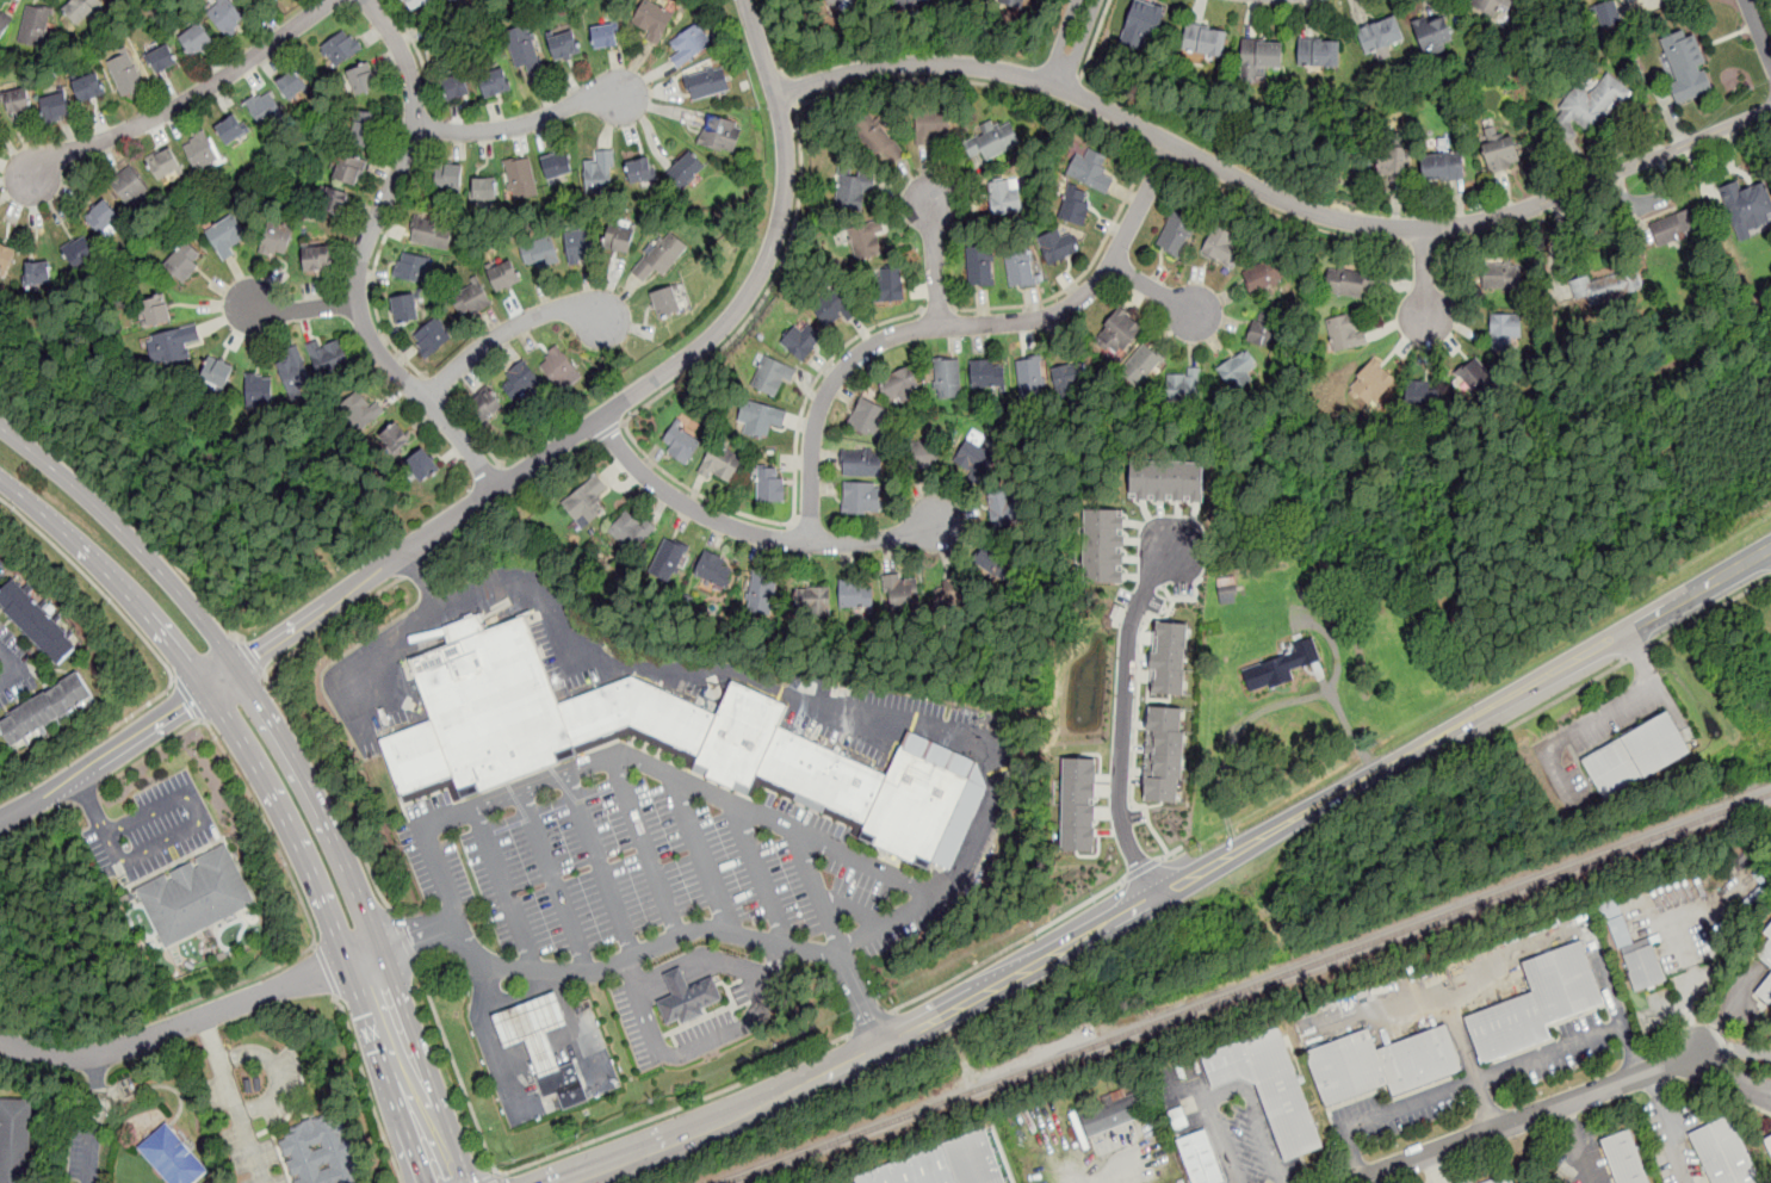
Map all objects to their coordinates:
building: (1629, 0)
building: (852, 1)
building: (831, 2)
building: (1014, 2)
building: (416, 4)
building: (912, 4)
building: (1487, 6)
building: (80, 8)
building: (1608, 12)
building: (227, 18)
building: (652, 20)
building: (4, 24)
building: (35, 25)
building: (1141, 25)
road: (1759, 27)
building: (1380, 33)
building: (1433, 33)
building: (603, 36)
road: (773, 37)
building: (196, 39)
road: (1094, 39)
building: (1205, 41)
road: (1073, 42)
building: (689, 44)
building: (564, 45)
building: (341, 49)
building: (525, 50)
building: (1319, 51)
road: (419, 54)
building: (1259, 56)
building: (162, 58)
building: (1686, 63)
building: (126, 73)
building: (361, 81)
building: (495, 81)
building: (707, 82)
building: (456, 85)
building: (88, 86)
building: (292, 86)
road: (791, 88)
road: (1073, 93)
building: (18, 99)
road: (185, 101)
building: (55, 104)
building: (1591, 104)
building: (265, 109)
road: (1106, 111)
road: (524, 124)
building: (365, 128)
road: (432, 128)
building: (933, 128)
road: (1109, 128)
building: (230, 129)
building: (716, 130)
building: (878, 140)
building: (992, 140)
building: (200, 150)
building: (1501, 154)
road: (1164, 156)
building: (163, 162)
building: (557, 163)
building: (1392, 163)
building: (1442, 166)
building: (686, 167)
building: (349, 169)
building: (639, 169)
building: (599, 172)
building: (1094, 172)
building: (448, 176)
building: (521, 178)
road: (1600, 179)
building: (129, 185)
building: (853, 186)
building: (484, 188)
building: (1004, 198)
building: (333, 199)
building: (1747, 205)
building: (1073, 206)
building: (103, 215)
road: (1290, 218)
building: (1674, 225)
building: (431, 233)
building: (1175, 234)
building: (227, 235)
road: (1490, 236)
building: (275, 239)
building: (618, 239)
building: (865, 240)
building: (578, 244)
road: (1423, 244)
building: (1058, 247)
building: (1222, 247)
building: (80, 252)
building: (540, 253)
road: (364, 255)
building: (661, 256)
building: (317, 258)
building: (6, 260)
road: (935, 260)
building: (185, 261)
road: (376, 262)
building: (413, 266)
building: (979, 266)
building: (1020, 267)
building: (1263, 272)
building: (37, 274)
building: (504, 275)
road: (1424, 275)
building: (1501, 275)
building: (1351, 281)
building: (890, 284)
building: (1609, 287)
road: (1158, 292)
building: (668, 302)
building: (473, 303)
building: (404, 306)
building: (155, 309)
road: (303, 309)
building: (834, 309)
road: (941, 309)
road: (958, 326)
road: (509, 328)
building: (1263, 328)
building: (1505, 329)
building: (1120, 330)
building: (1345, 332)
building: (432, 337)
building: (803, 340)
building: (172, 343)
building: (328, 355)
building: (1141, 364)
building: (557, 367)
building: (1237, 370)
building: (216, 371)
building: (987, 372)
building: (295, 374)
building: (1070, 376)
building: (772, 377)
building: (1478, 377)
building: (519, 378)
building: (1029, 378)
building: (946, 379)
building: (1183, 382)
building: (1371, 382)
building: (899, 385)
road: (435, 388)
building: (259, 390)
building: (1423, 394)
road: (627, 400)
building: (484, 407)
building: (361, 409)
building: (869, 419)
building: (758, 420)
road: (621, 422)
road: (605, 432)
road: (475, 433)
building: (394, 439)
building: (680, 442)
building: (921, 456)
building: (974, 458)
road: (650, 459)
building: (861, 463)
building: (720, 464)
building: (421, 465)
road: (509, 477)
building: (1166, 481)
building: (770, 484)
building: (861, 496)
road: (512, 497)
building: (586, 502)
building: (1007, 507)
road: (129, 514)
building: (628, 532)
road: (751, 532)
building: (1101, 545)
building: (668, 559)
building: (996, 562)
road: (417, 564)
building: (713, 570)
building: (1227, 589)
building: (761, 590)
building: (953, 591)
building: (900, 593)
building: (855, 595)
building: (813, 601)
road: (1709, 612)
building: (37, 623)
road: (333, 624)
road: (1333, 639)
road: (382, 648)
road: (1636, 652)
road: (252, 656)
road: (1639, 656)
building: (1168, 657)
road: (163, 659)
road: (10, 665)
building: (1280, 665)
road: (744, 676)
road: (187, 696)
road: (1552, 702)
road: (1265, 708)
building: (45, 710)
road: (1122, 719)
road: (1135, 723)
road: (1569, 732)
building: (481, 744)
road: (123, 748)
road: (148, 751)
building: (1163, 752)
building: (1636, 757)
road: (297, 763)
road: (565, 776)
road: (332, 789)
road: (274, 791)
road: (86, 797)
building: (1076, 803)
road: (92, 804)
road: (163, 804)
road: (648, 848)
road: (148, 850)
road: (1172, 851)
road: (702, 855)
road: (602, 866)
road: (1141, 868)
parking lot: (649, 871)
road: (762, 874)
road: (556, 881)
road: (921, 884)
road: (1176, 886)
road: (506, 888)
road: (821, 890)
building: (199, 896)
road: (301, 899)
road: (404, 939)
road: (315, 944)
road: (1008, 947)
building: (1766, 949)
road: (719, 960)
building: (1642, 962)
road: (603, 967)
road: (636, 971)
road: (327, 972)
railway: (1247, 989)
building: (1765, 990)
building: (687, 996)
road: (522, 997)
road: (863, 997)
building: (1536, 1004)
road: (758, 1007)
road: (191, 1018)
parking lot: (639, 1021)
road: (871, 1022)
gas station: (534, 1027)
road: (576, 1028)
road: (491, 1039)
building: (541, 1046)
road: (1738, 1052)
road: (661, 1053)
building: (1382, 1061)
road: (274, 1070)
road: (456, 1070)
road: (1482, 1076)
road: (1734, 1076)
building: (1269, 1086)
road: (367, 1088)
road: (1234, 1091)
road: (234, 1098)
road: (1486, 1103)
road: (674, 1109)
building: (1111, 1116)
road: (1528, 1116)
road: (93, 1119)
road: (1672, 1126)
building: (16, 1139)
building: (1769, 1142)
road: (1577, 1144)
building: (321, 1151)
building: (1723, 1152)
building: (172, 1157)
building: (1626, 1157)
building: (1200, 1159)
building: (939, 1163)
road: (1439, 1167)
road: (1109, 1170)
road: (487, 1178)
road: (499, 1178)
building: (1506, 1179)

